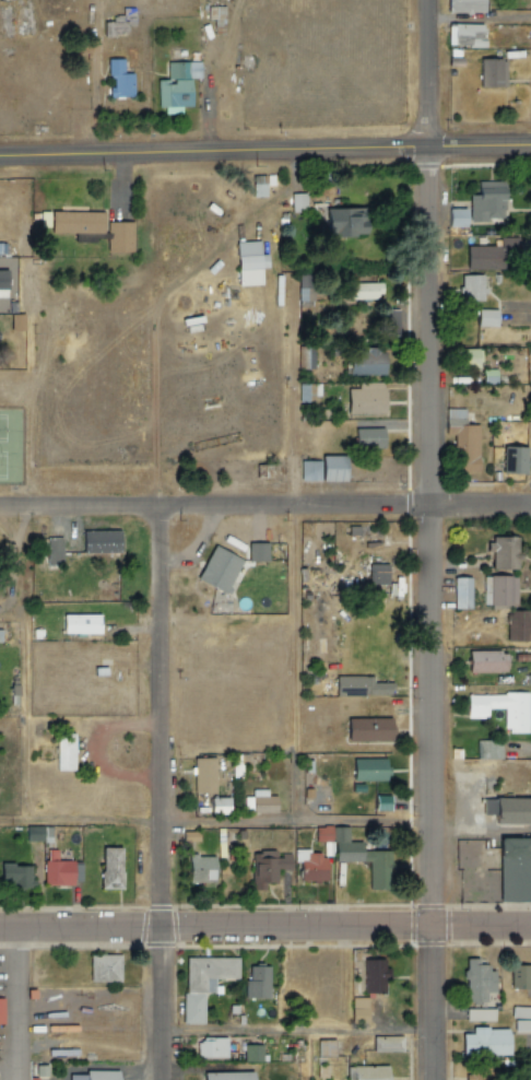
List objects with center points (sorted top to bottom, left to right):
building: (463, 4)
road: (421, 11)
building: (13, 17)
road: (476, 19)
building: (213, 20)
building: (118, 21)
building: (467, 33)
building: (491, 70)
building: (119, 75)
building: (175, 84)
road: (265, 151)
building: (261, 185)
building: (485, 201)
building: (299, 202)
building: (356, 216)
building: (456, 216)
building: (93, 227)
building: (482, 255)
building: (248, 259)
building: (304, 281)
building: (3, 284)
building: (363, 285)
building: (471, 285)
building: (486, 316)
building: (14, 319)
building: (393, 322)
building: (305, 349)
building: (465, 354)
building: (368, 362)
building: (487, 374)
building: (306, 391)
building: (365, 399)
building: (368, 437)
building: (461, 438)
park: (8, 445)
building: (514, 457)
building: (332, 466)
building: (309, 468)
road: (265, 506)
building: (91, 547)
building: (256, 550)
road: (426, 550)
building: (504, 550)
building: (49, 551)
building: (216, 566)
building: (375, 573)
building: (503, 587)
building: (460, 591)
building: (81, 622)
building: (518, 624)
building: (484, 660)
road: (26, 664)
building: (349, 683)
building: (380, 686)
building: (515, 719)
building: (368, 728)
building: (63, 750)
building: (488, 750)
building: (234, 762)
building: (340, 765)
building: (203, 773)
building: (368, 773)
road: (163, 795)
building: (262, 801)
building: (219, 805)
building: (512, 809)
road: (214, 823)
building: (322, 832)
building: (34, 833)
building: (189, 834)
building: (220, 842)
building: (364, 857)
building: (268, 865)
building: (311, 866)
building: (110, 867)
building: (199, 867)
building: (57, 868)
building: (512, 868)
building: (13, 873)
road: (265, 929)
building: (102, 966)
building: (371, 975)
building: (520, 975)
building: (256, 979)
building: (479, 979)
building: (203, 985)
building: (2, 1011)
building: (361, 1011)
building: (477, 1013)
building: (522, 1020)
building: (387, 1041)
building: (486, 1041)
building: (208, 1047)
building: (327, 1048)
building: (251, 1050)
building: (368, 1072)
building: (480, 1073)
building: (95, 1075)
building: (231, 1076)

